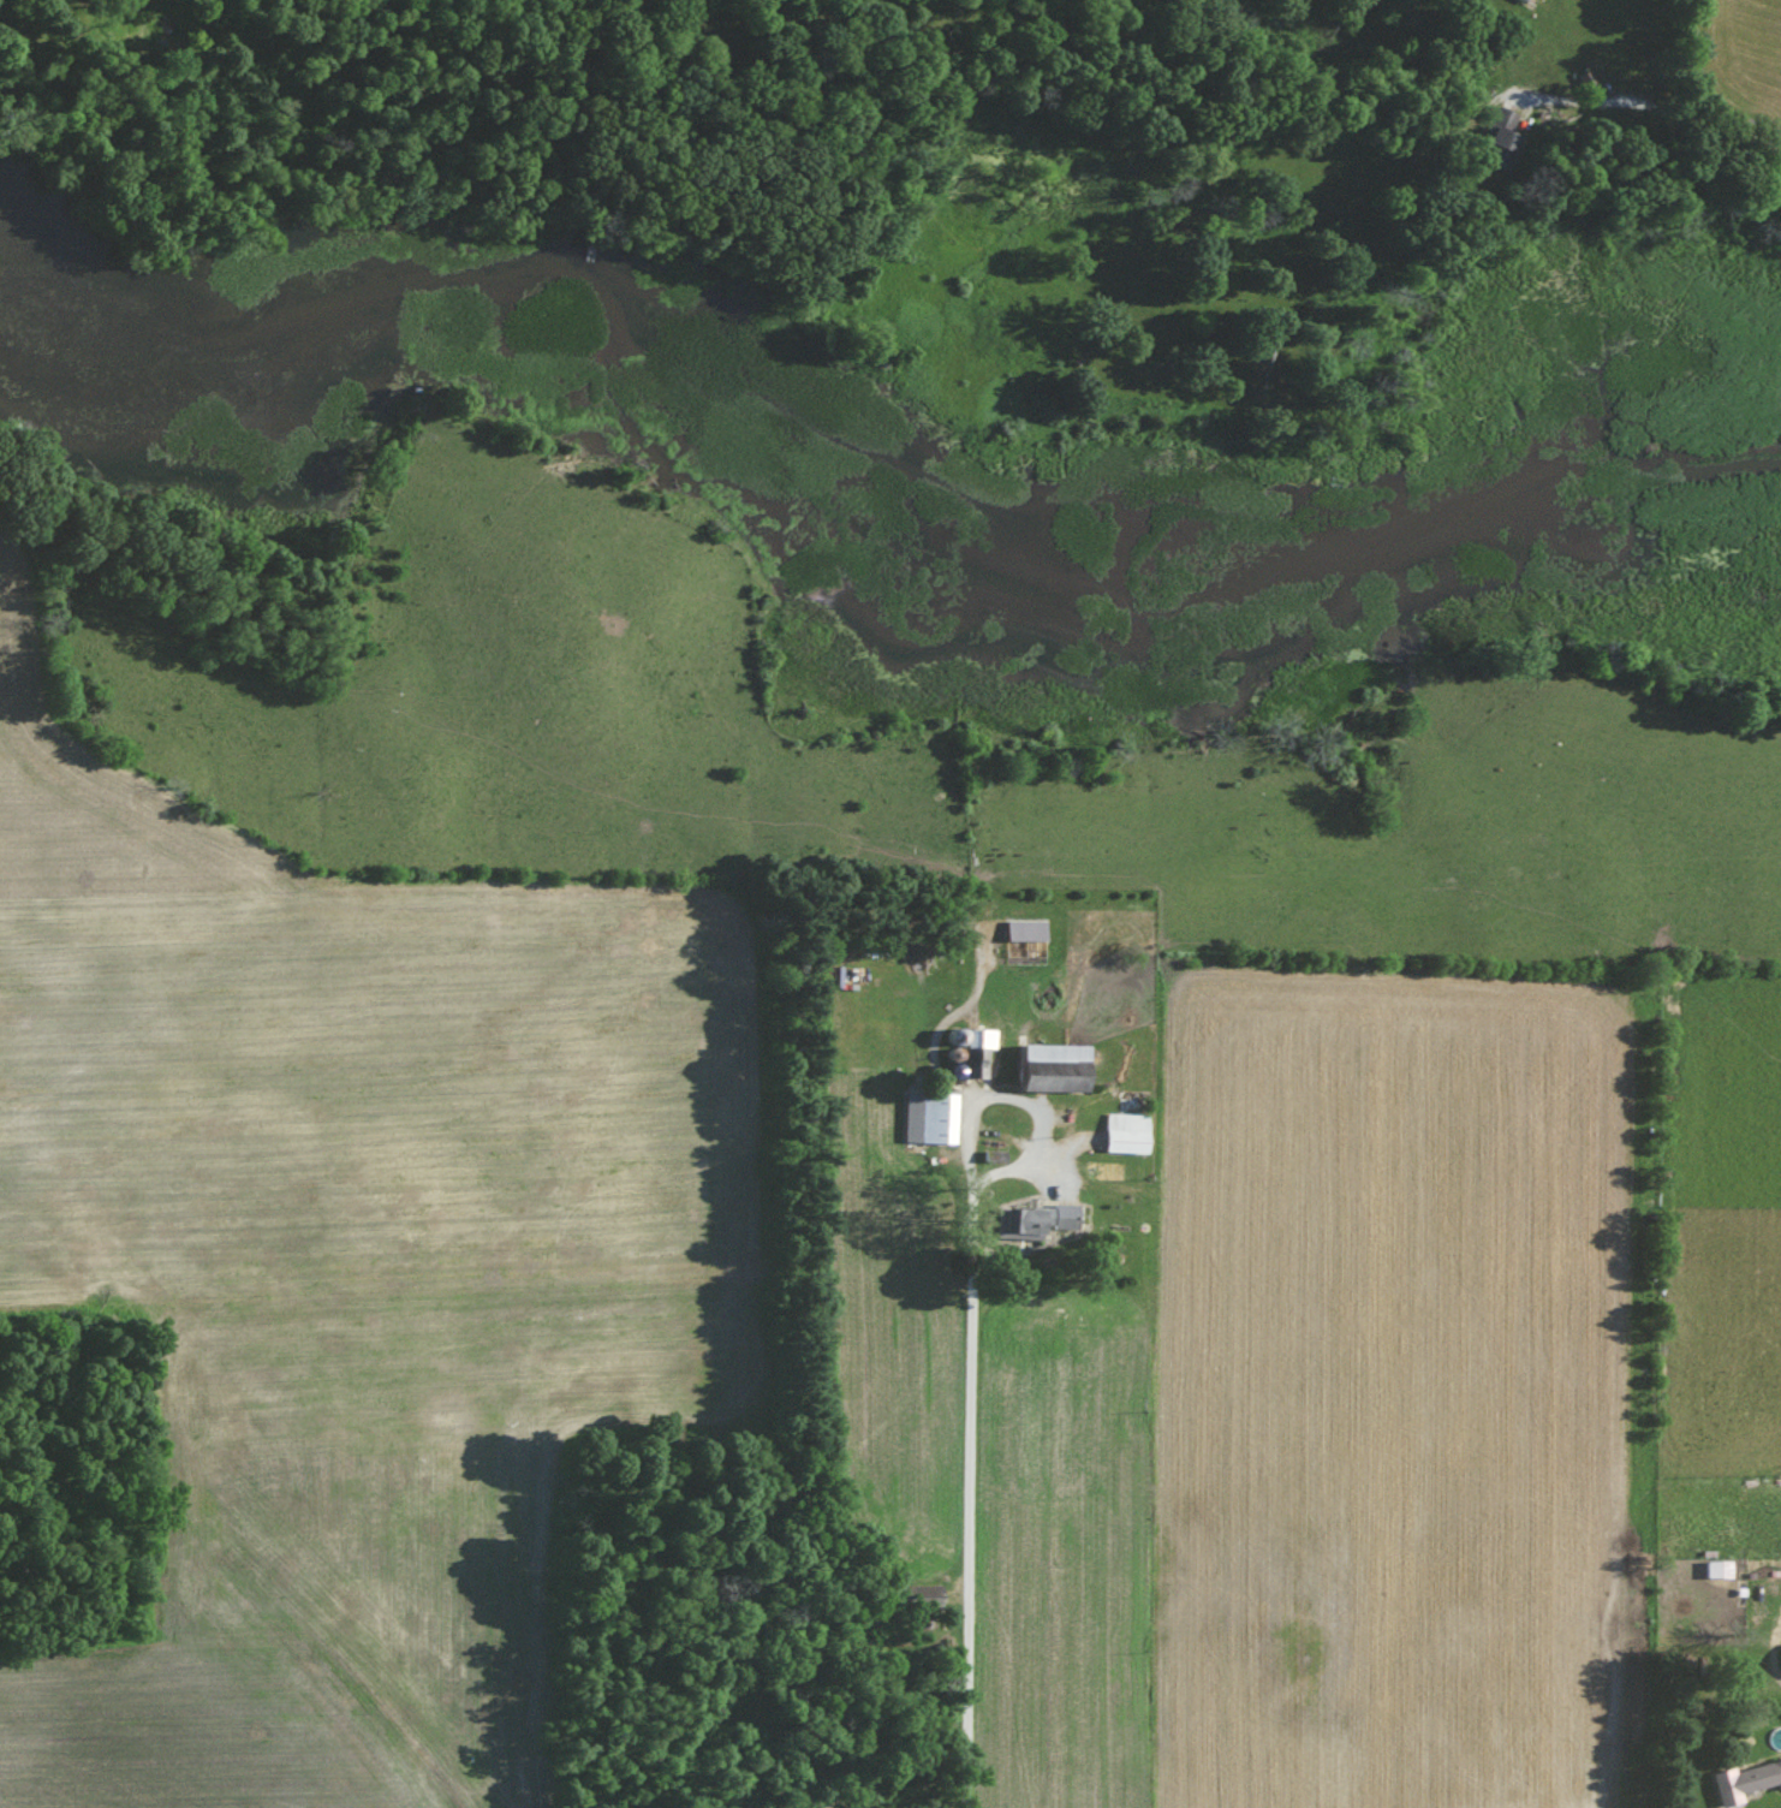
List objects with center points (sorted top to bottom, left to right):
building: (1502, 131)
river: (866, 502)
building: (1026, 929)
building: (977, 1049)
building: (1055, 1065)
building: (930, 1116)
building: (1127, 1131)
building: (1032, 1219)
road: (963, 1414)
building: (919, 1590)
building: (1745, 1779)

